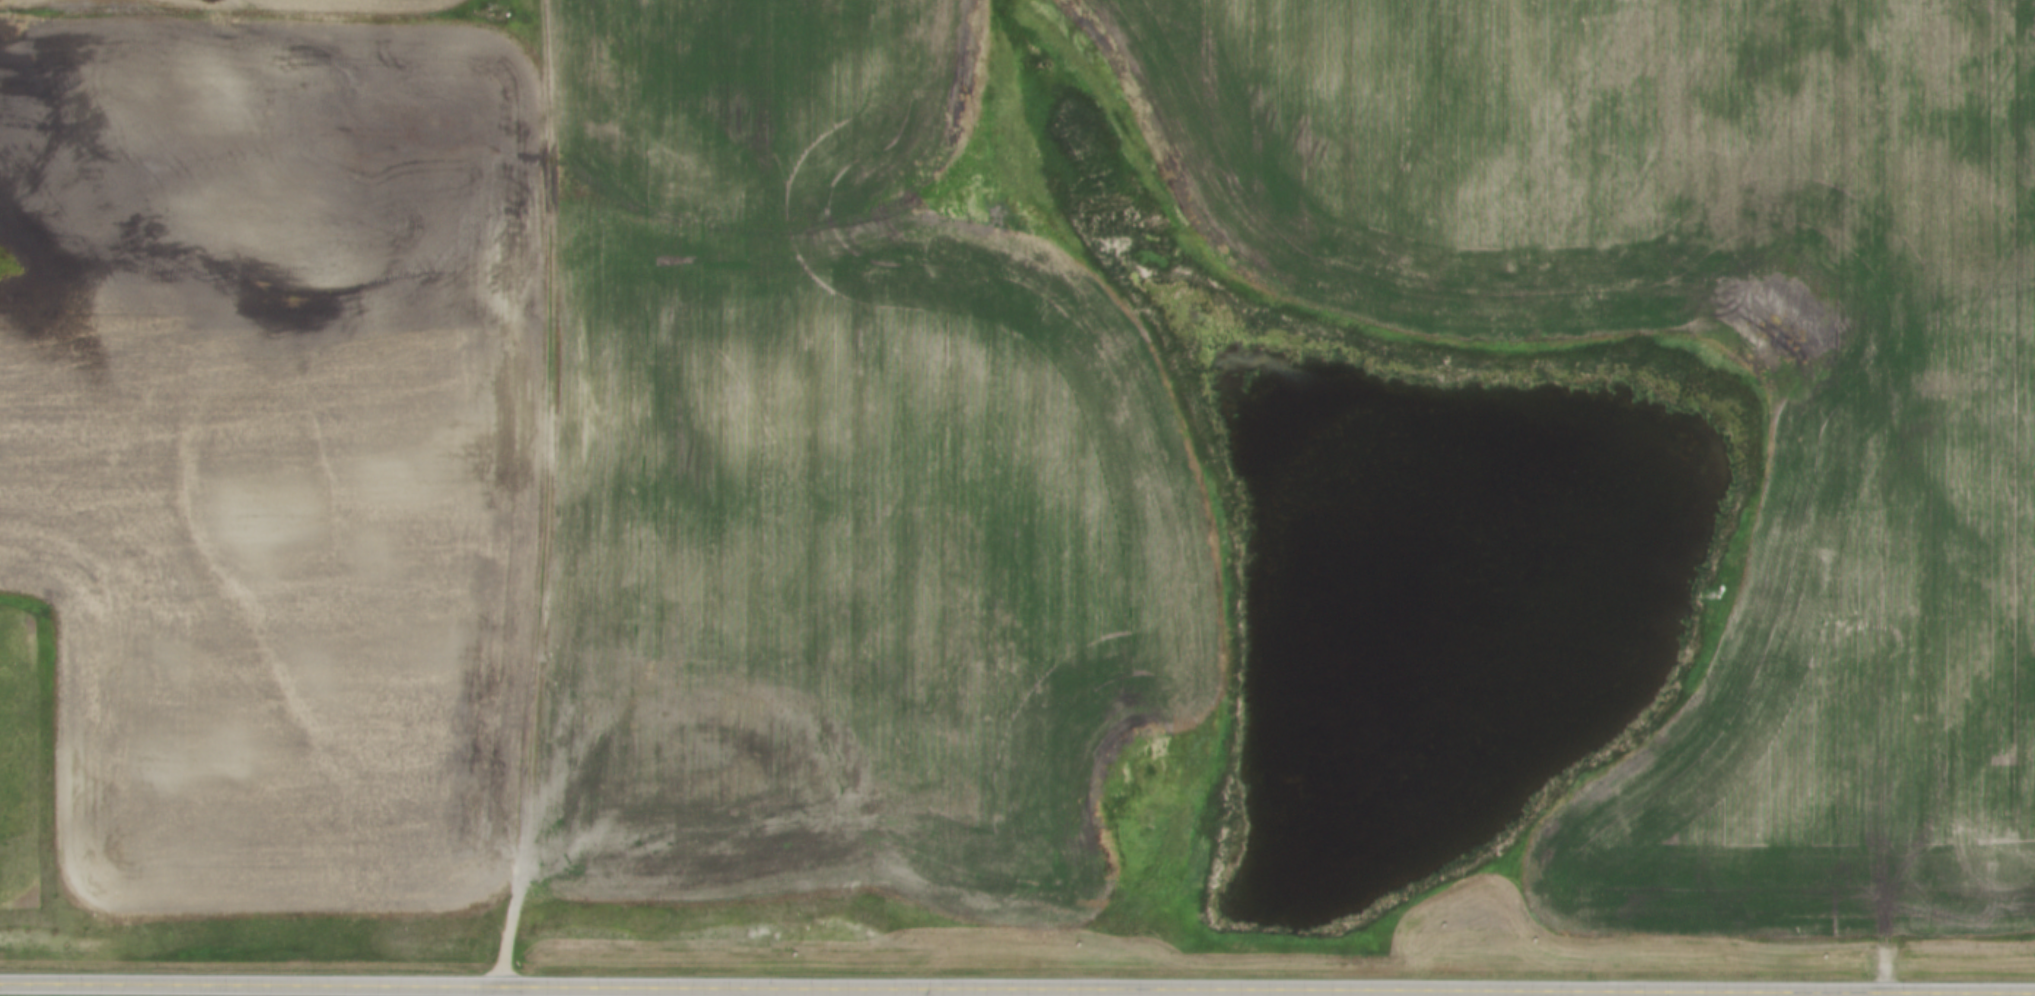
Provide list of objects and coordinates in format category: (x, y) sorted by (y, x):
road: (1017, 987)

